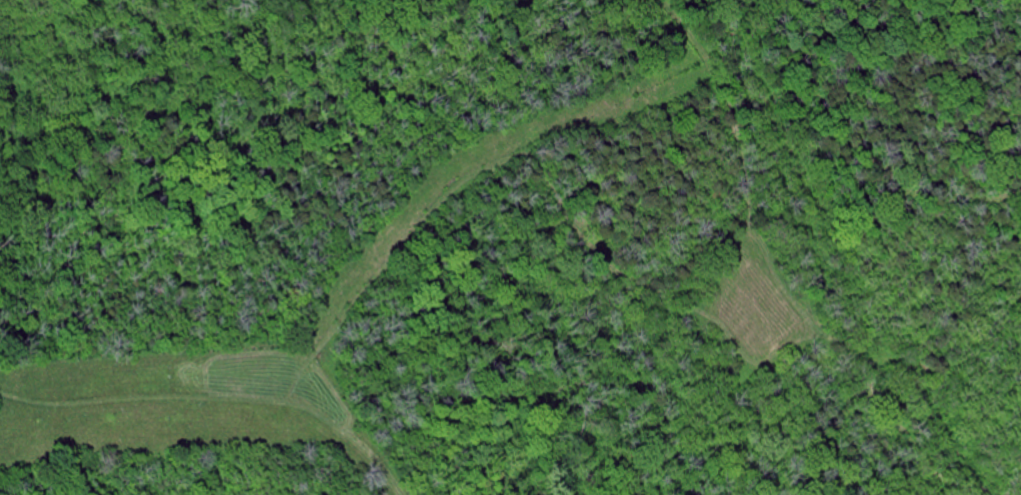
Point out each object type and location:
road: (773, 280)

